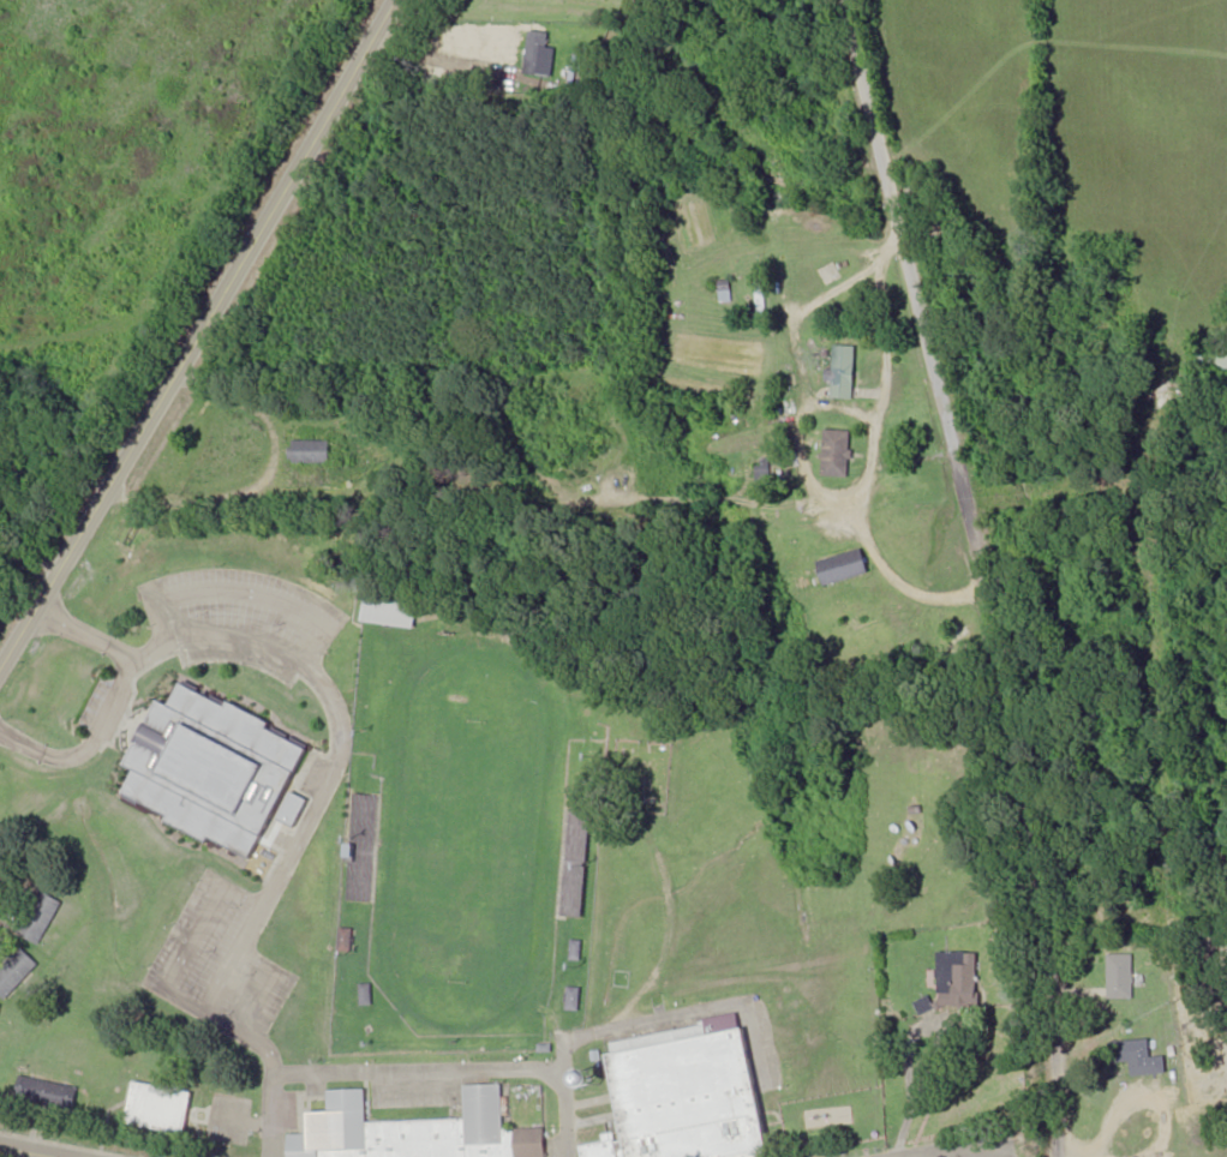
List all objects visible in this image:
road: (914, 262)
road: (199, 334)
building: (843, 373)
building: (311, 454)
building: (836, 455)
building: (582, 456)
building: (843, 569)
road: (249, 593)
building: (393, 613)
parking lot: (240, 618)
road: (115, 701)
road: (336, 755)
building: (215, 769)
stadium: (467, 835)
park: (471, 839)
road: (1023, 839)
road: (8, 891)
building: (41, 918)
road: (205, 918)
building: (346, 941)
parking lot: (222, 963)
building: (16, 972)
building: (1120, 978)
building: (966, 982)
road: (270, 984)
building: (574, 1000)
road: (231, 1027)
building: (1138, 1060)
road: (420, 1069)
water tower: (589, 1072)
building: (48, 1092)
building: (687, 1093)
building: (160, 1108)
parking lot: (231, 1120)
building: (414, 1131)
road: (34, 1150)
road: (971, 1151)

